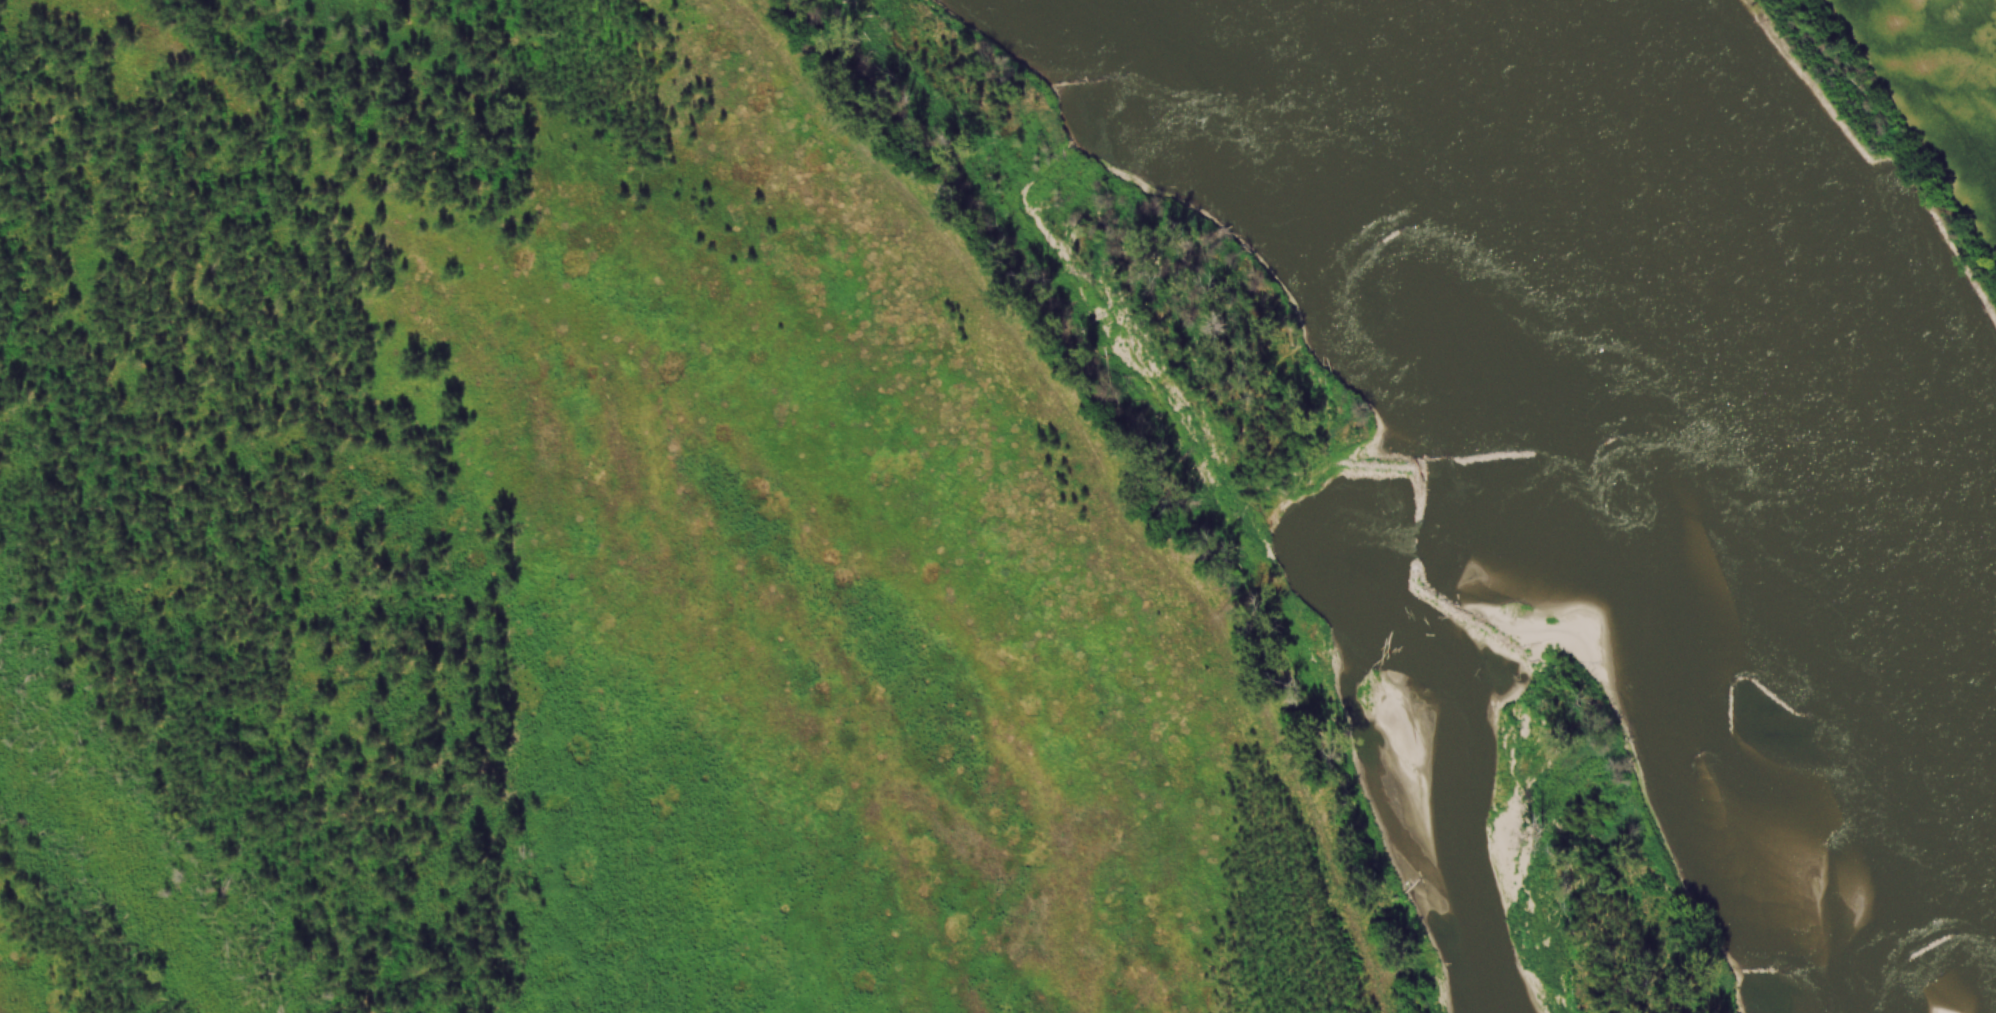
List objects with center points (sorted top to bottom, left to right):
river: (1709, 440)
road: (1105, 480)

